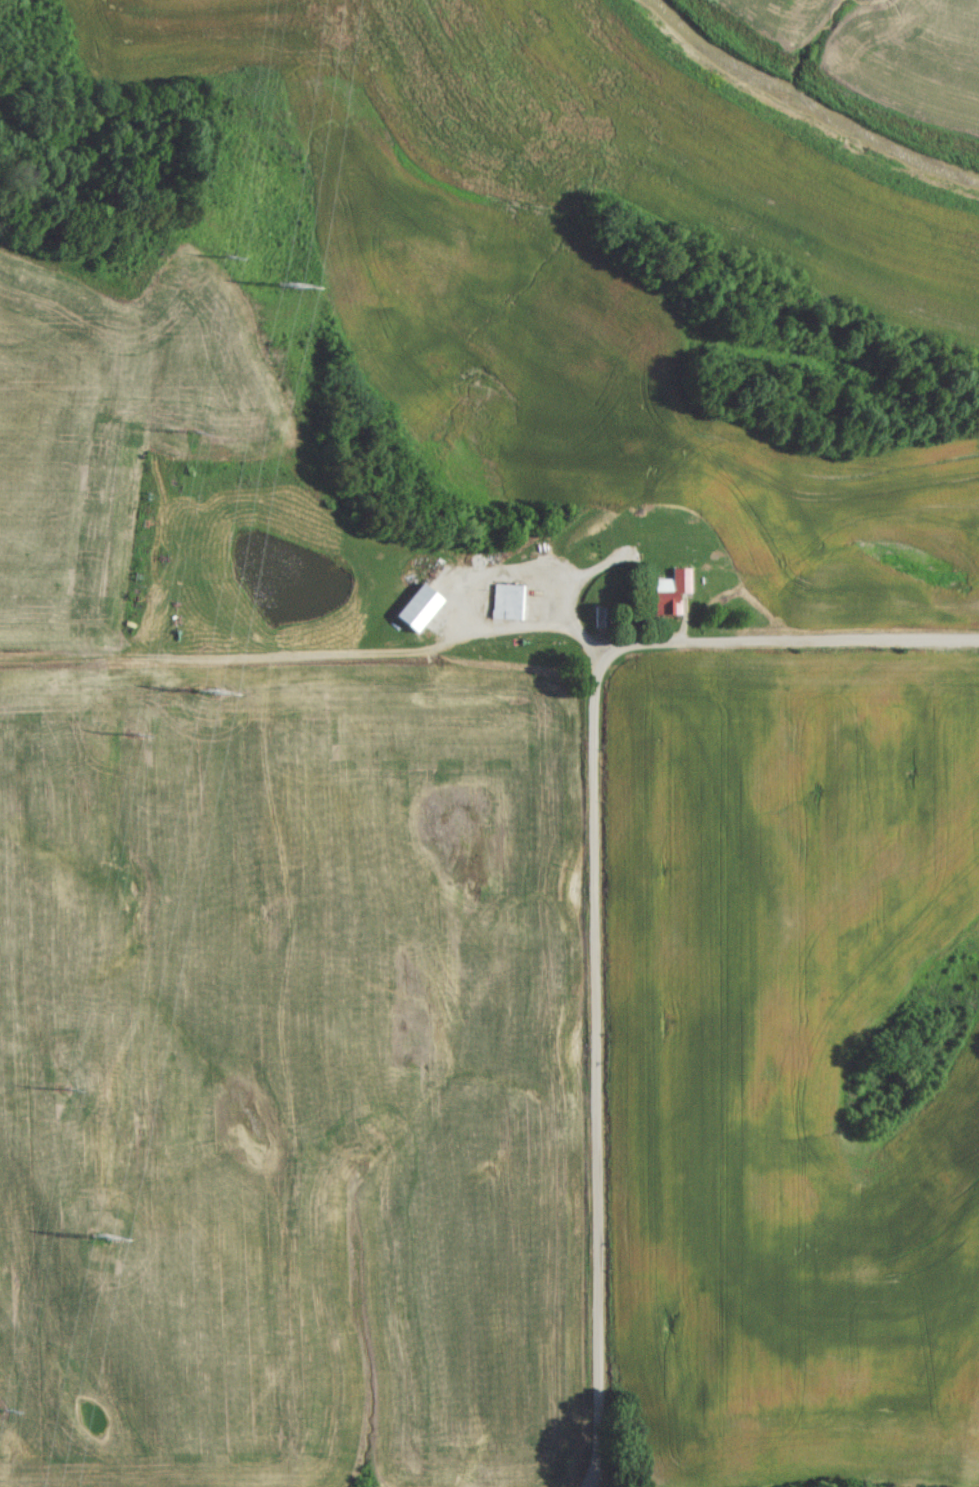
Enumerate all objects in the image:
power tower: (286, 292)
road: (520, 572)
building: (675, 587)
building: (506, 607)
building: (667, 610)
building: (418, 613)
road: (578, 643)
road: (90, 665)
power tower: (204, 695)
road: (598, 1069)
power tower: (100, 1242)

